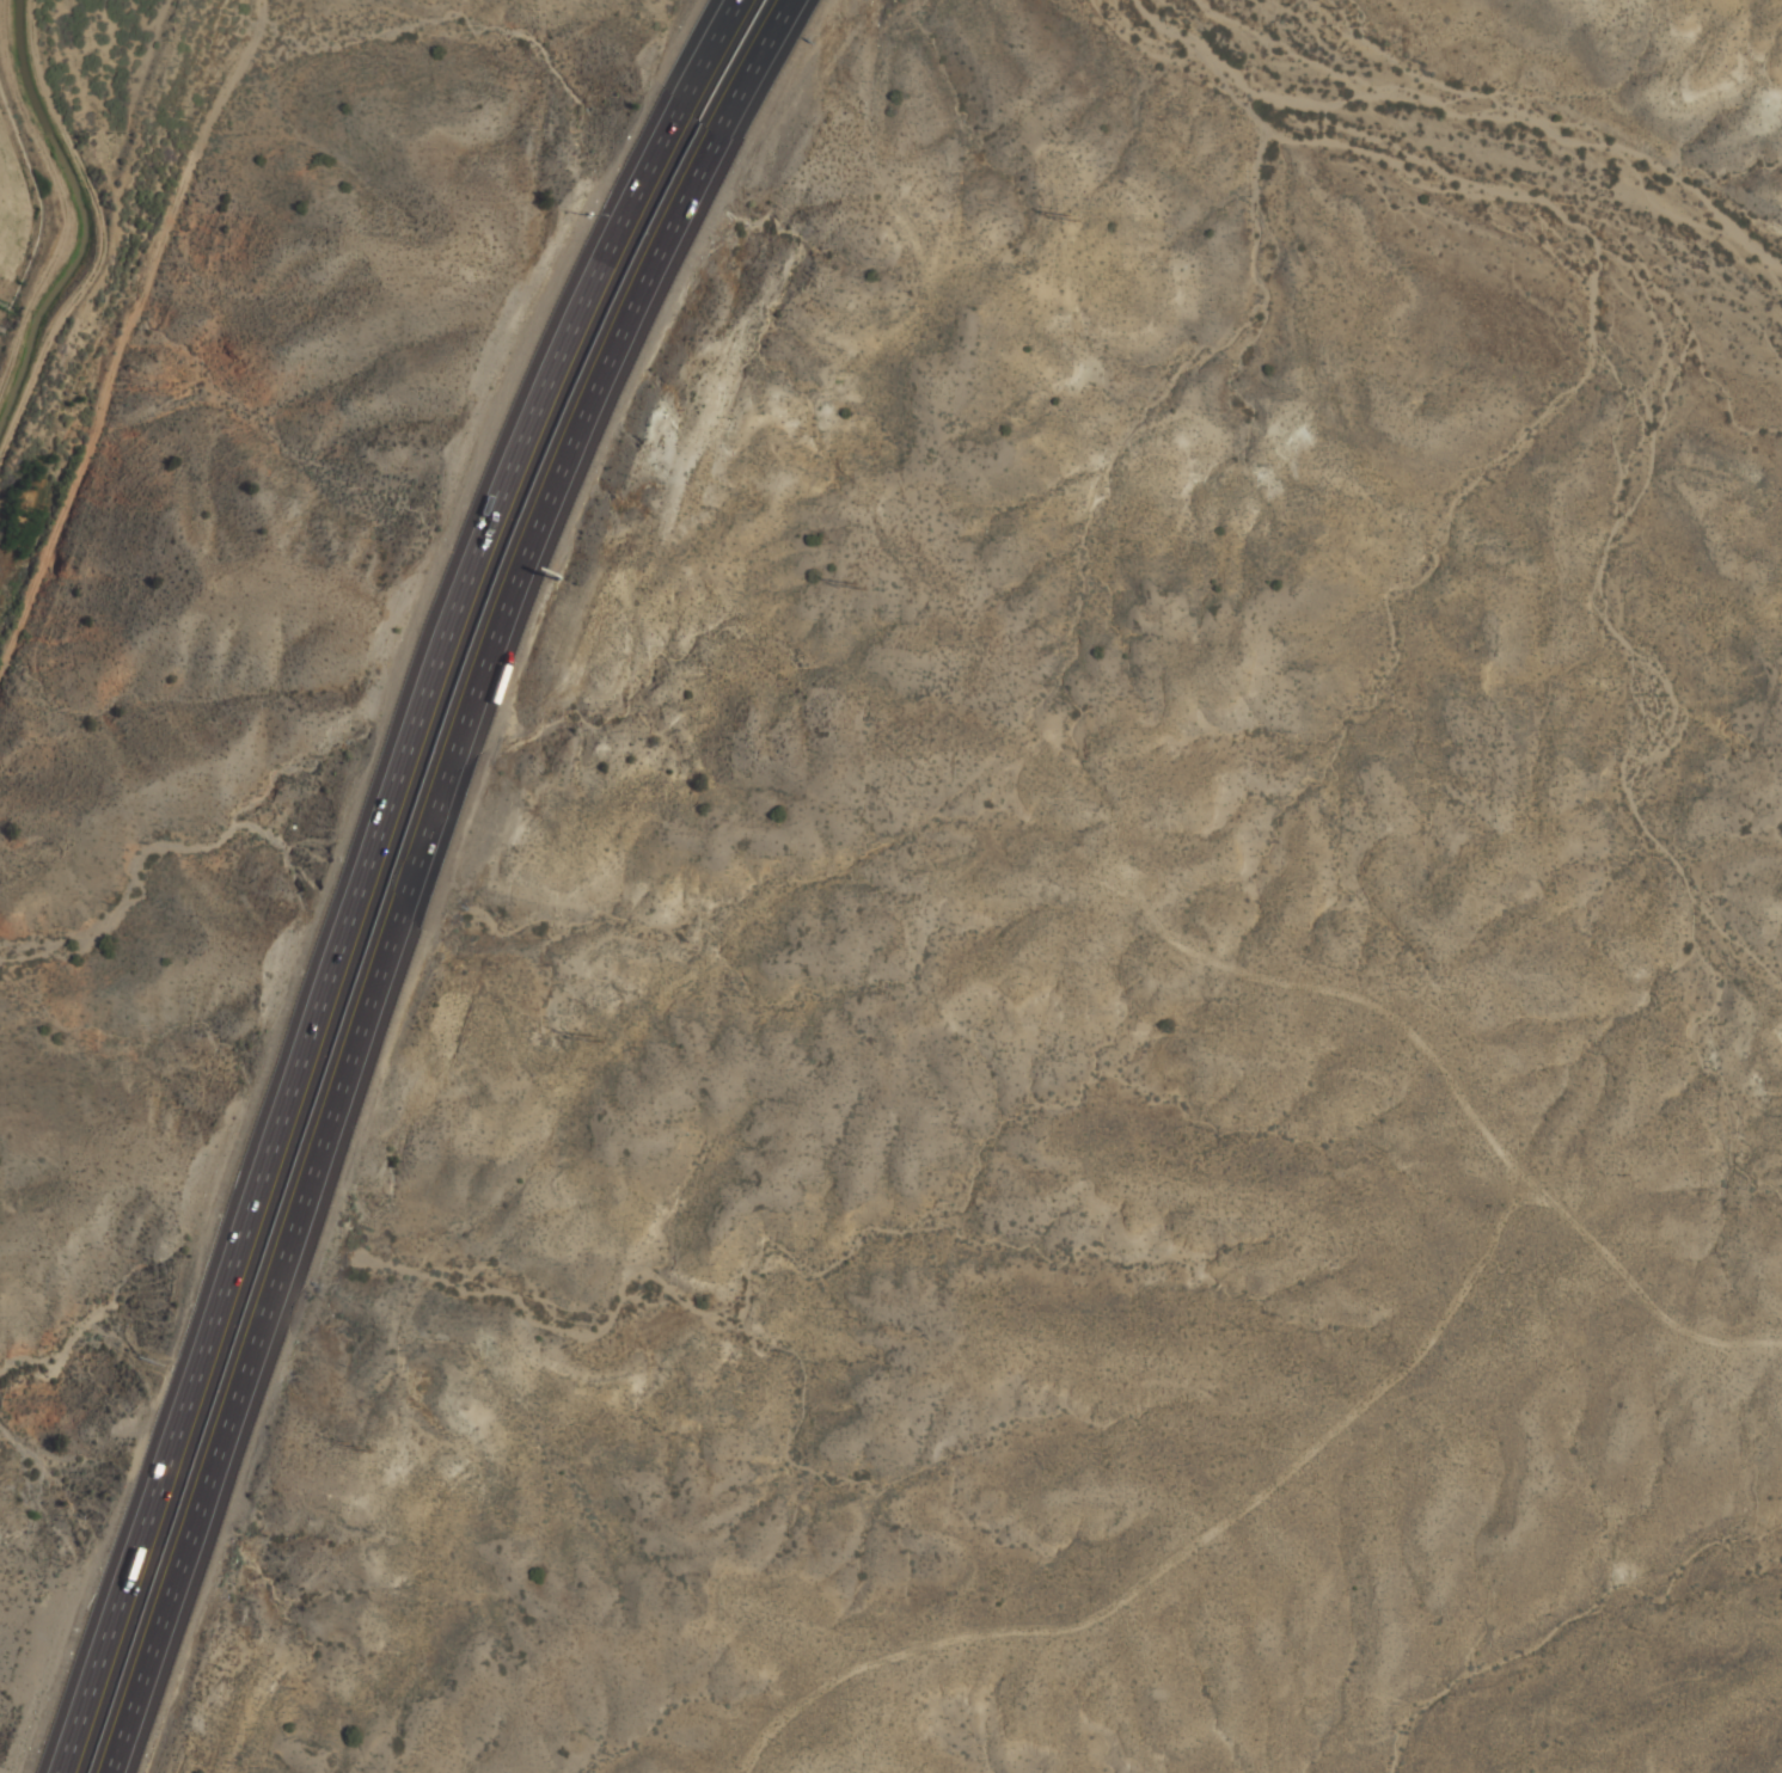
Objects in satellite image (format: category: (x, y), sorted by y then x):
road: (124, 332)
road: (353, 872)
road: (429, 877)

